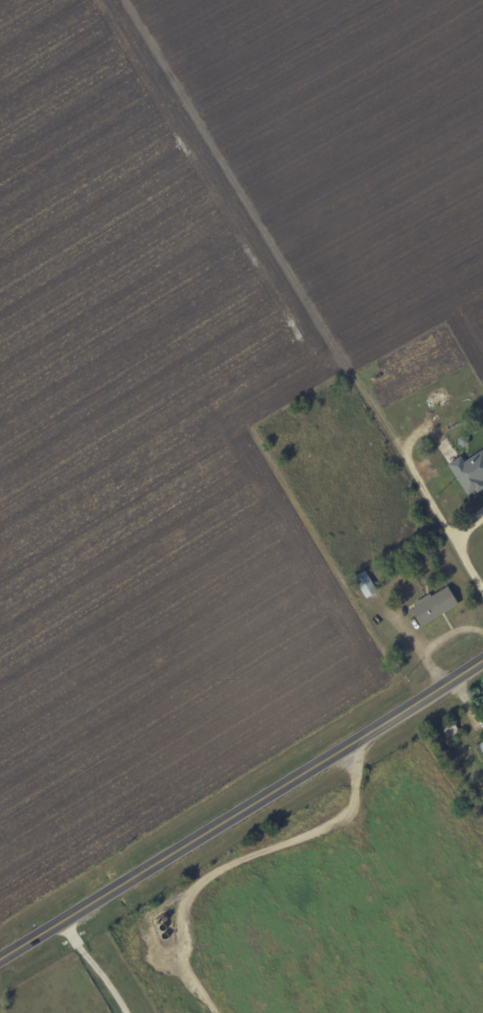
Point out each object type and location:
building: (468, 472)
road: (451, 556)
building: (364, 583)
building: (432, 606)
building: (480, 747)
road: (241, 814)
road: (106, 968)

